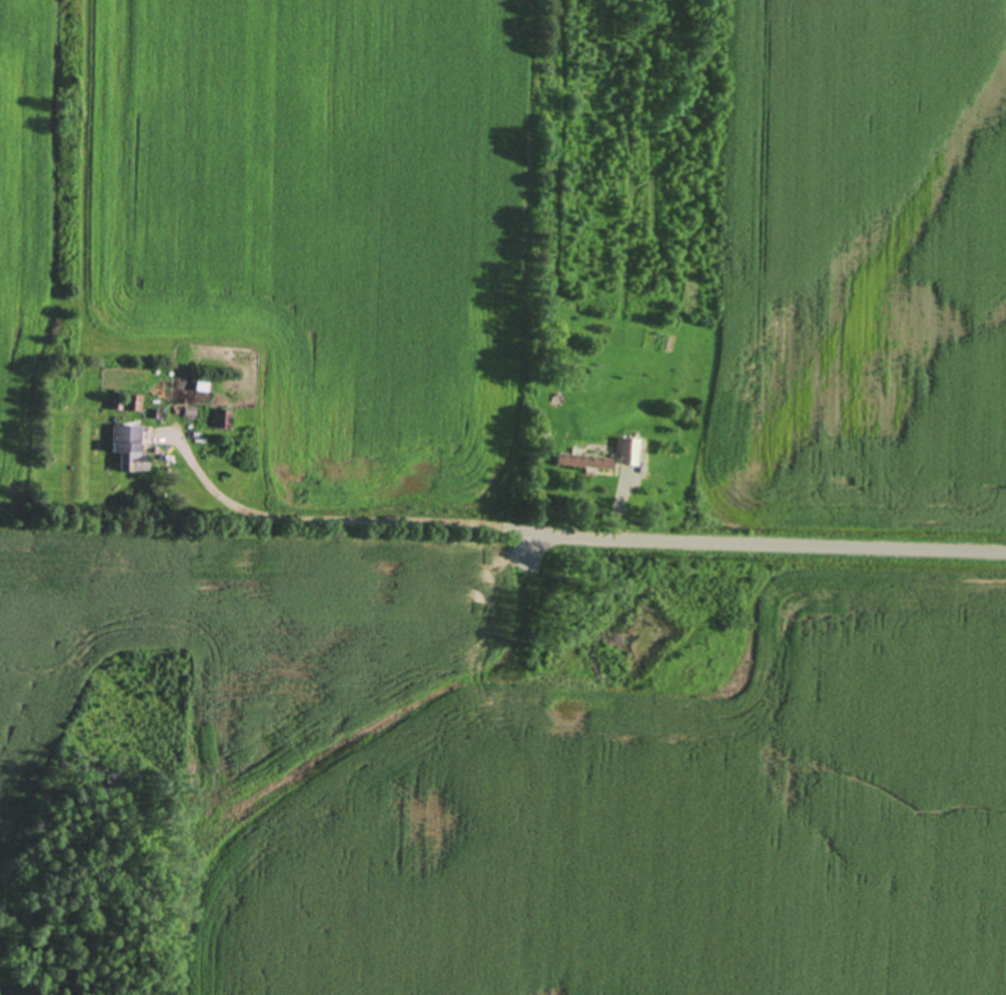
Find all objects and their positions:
building: (199, 386)
building: (133, 400)
building: (117, 401)
building: (155, 411)
building: (221, 417)
building: (129, 447)
building: (623, 449)
building: (583, 460)
road: (229, 501)
road: (657, 544)

